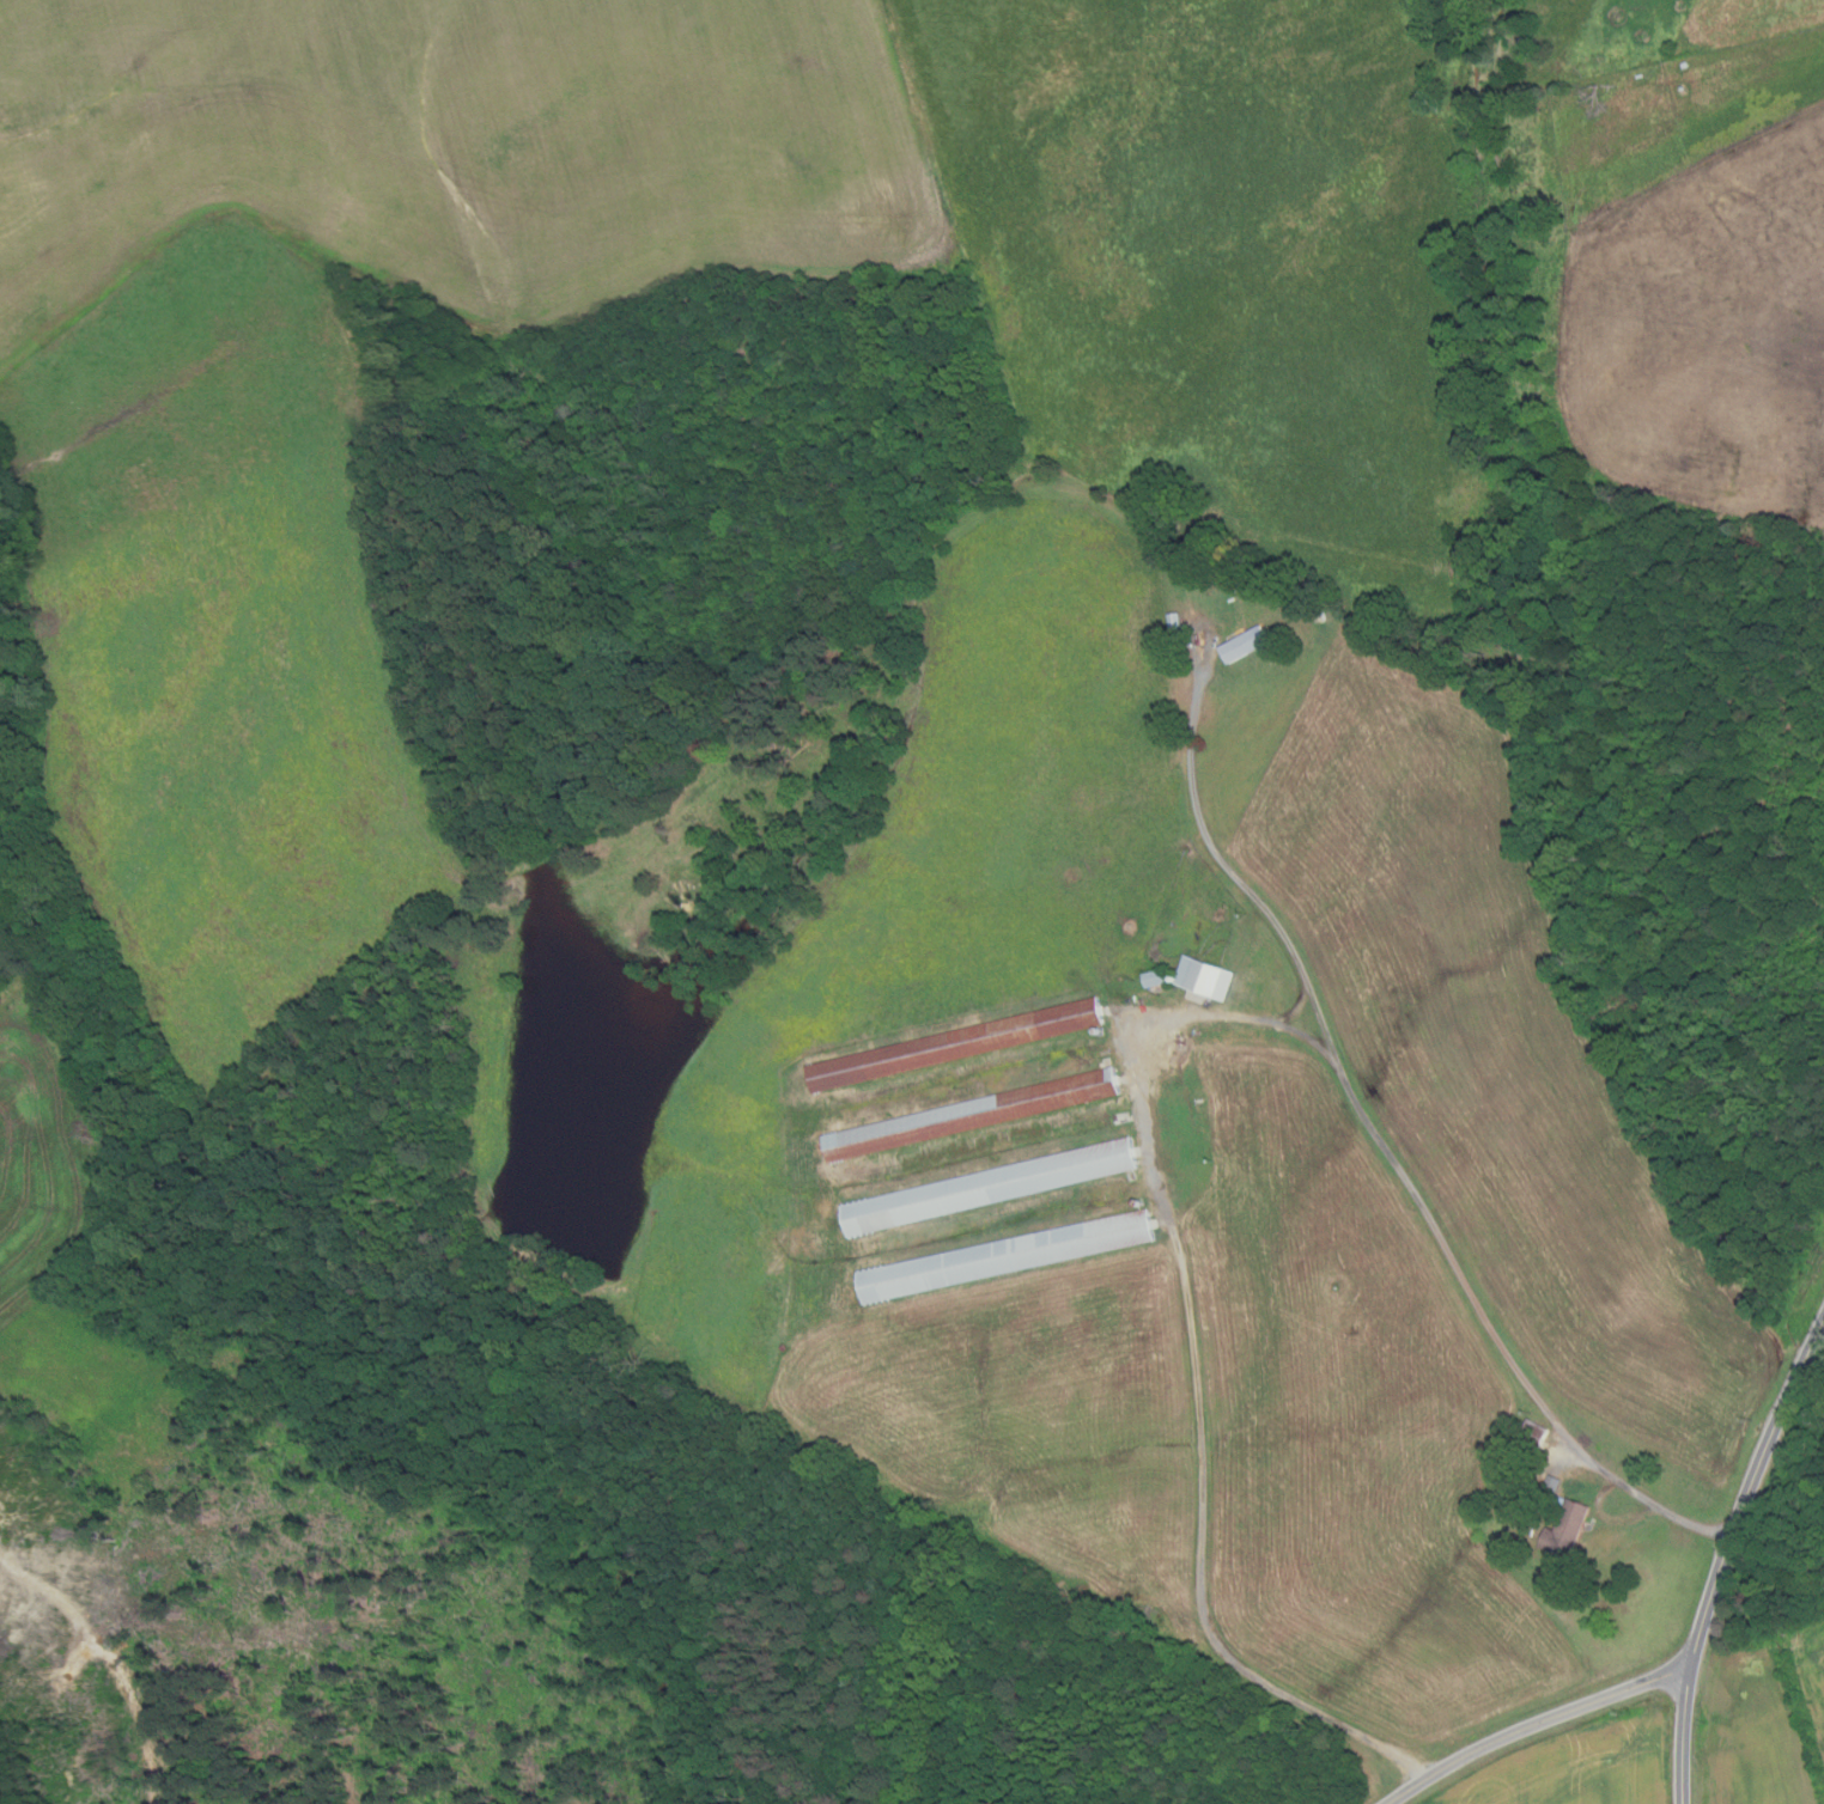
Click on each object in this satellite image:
crop: (456, 144)
building: (1229, 577)
building: (1324, 615)
building: (1179, 626)
building: (1250, 644)
building: (1208, 977)
building: (1159, 981)
building: (956, 1044)
building: (973, 1115)
building: (1120, 1119)
road: (1379, 1141)
building: (989, 1187)
building: (1005, 1257)
road: (1194, 1351)
building: (1534, 1436)
road: (1609, 1516)
building: (1567, 1530)
road: (1726, 1555)
crop: (1765, 1724)
road: (1536, 1725)
crop: (1580, 1766)

